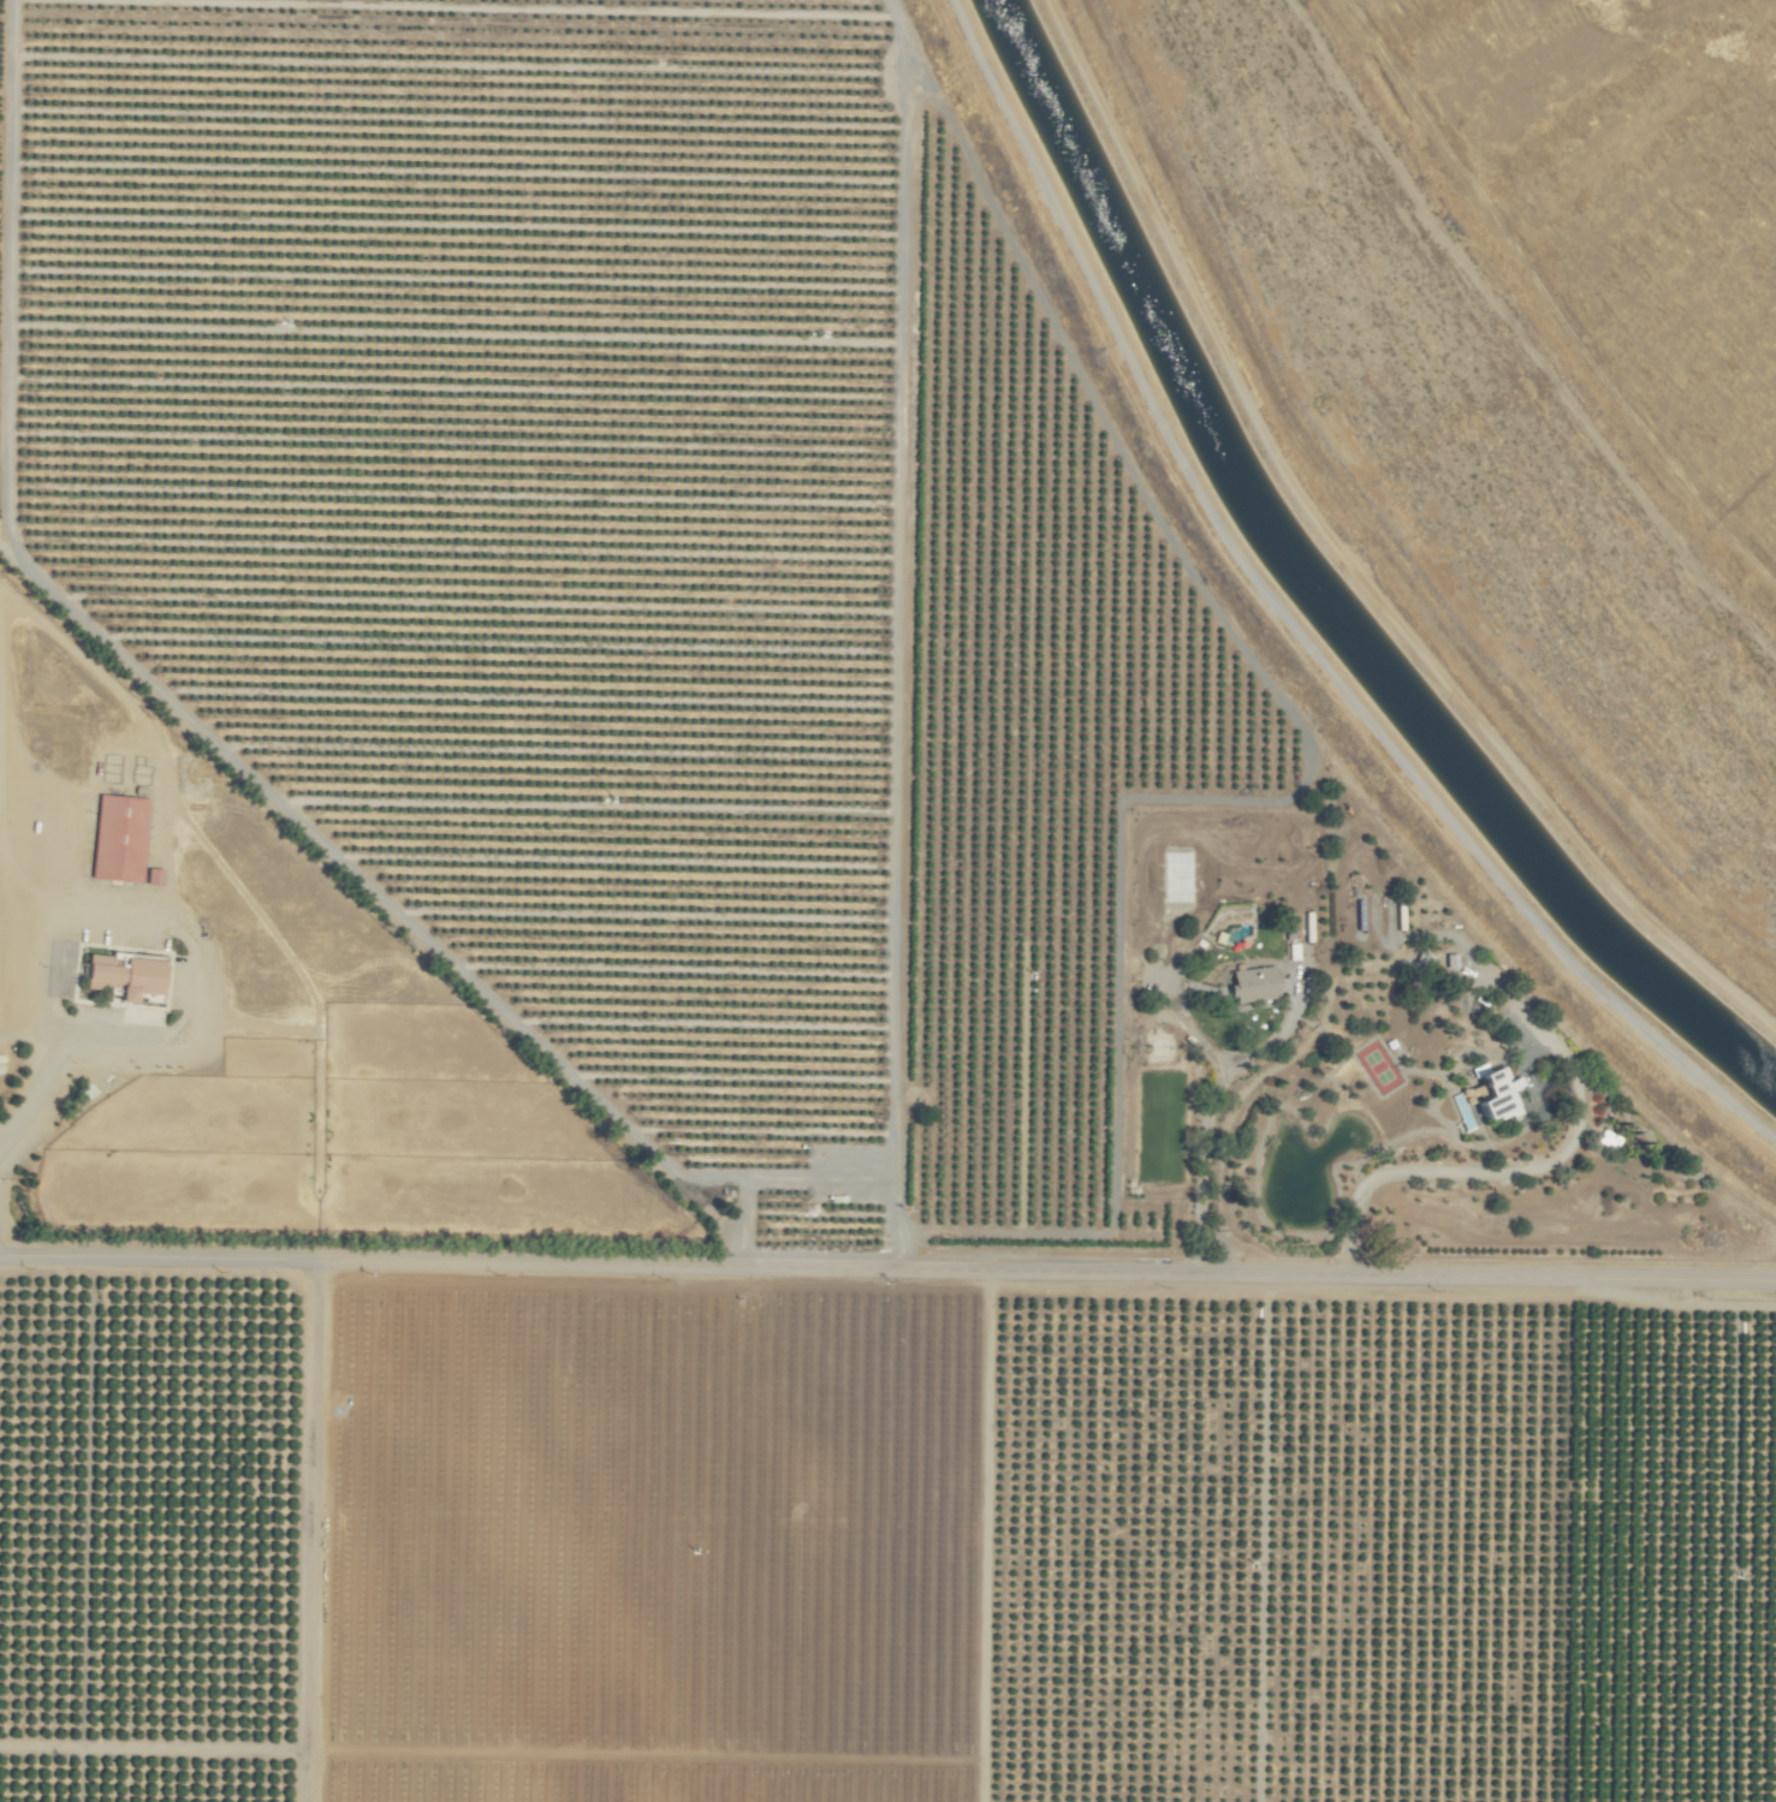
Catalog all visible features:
road: (1283, 629)
building: (123, 839)
building: (156, 878)
road: (394, 909)
building: (130, 976)
building: (1249, 983)
crop: (688, 1003)
road: (1186, 1025)
road: (147, 1049)
crop: (1385, 1066)
building: (1492, 1094)
road: (1213, 1102)
road: (1240, 1105)
road: (1448, 1174)
road: (887, 1273)
road: (307, 1534)

